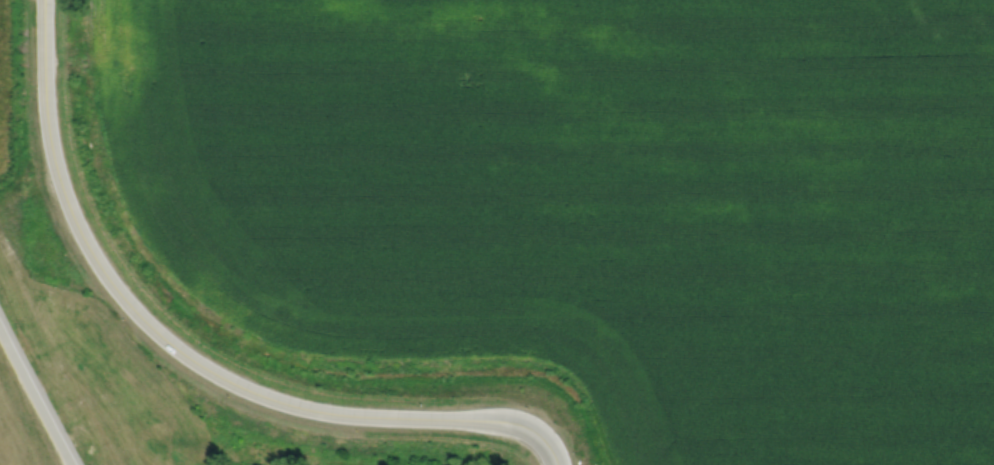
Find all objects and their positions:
crop: (594, 202)
road: (188, 355)
road: (35, 396)

